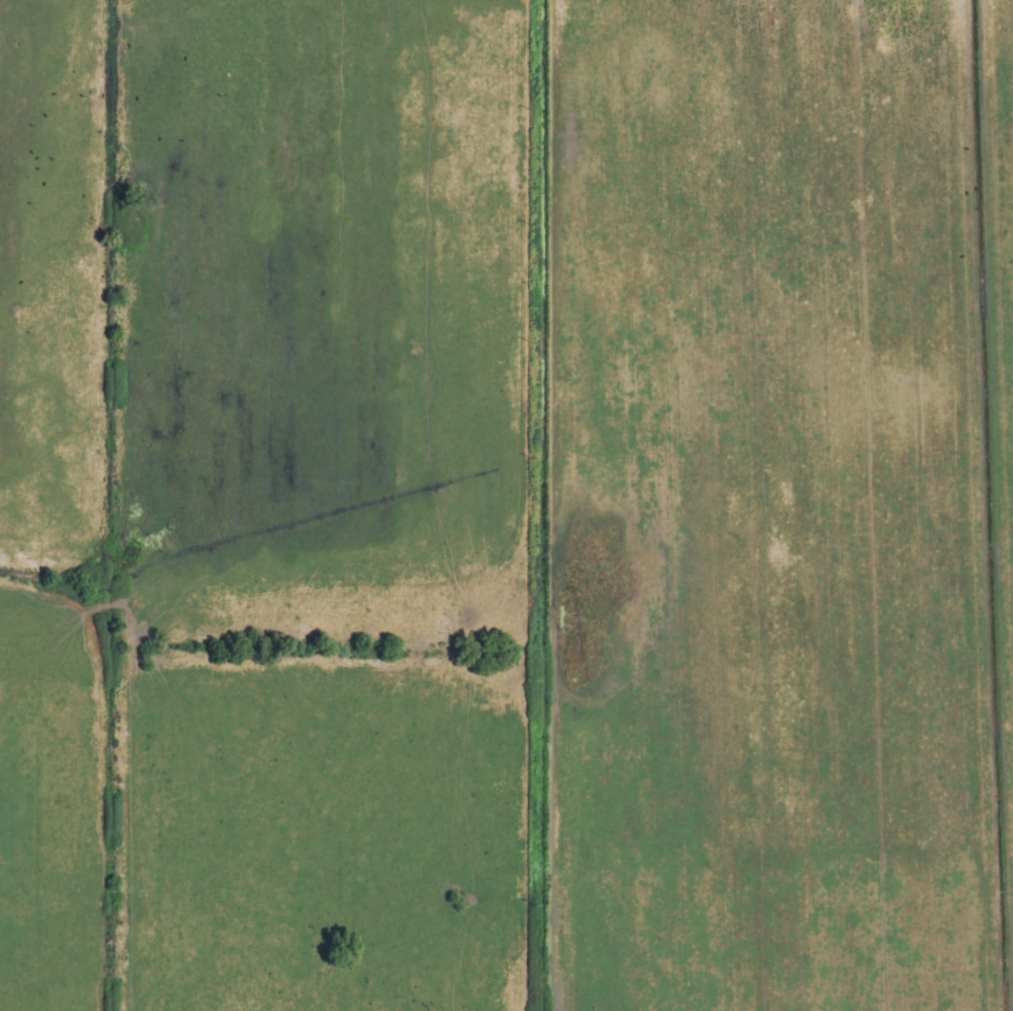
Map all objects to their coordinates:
crop: (506, 505)

